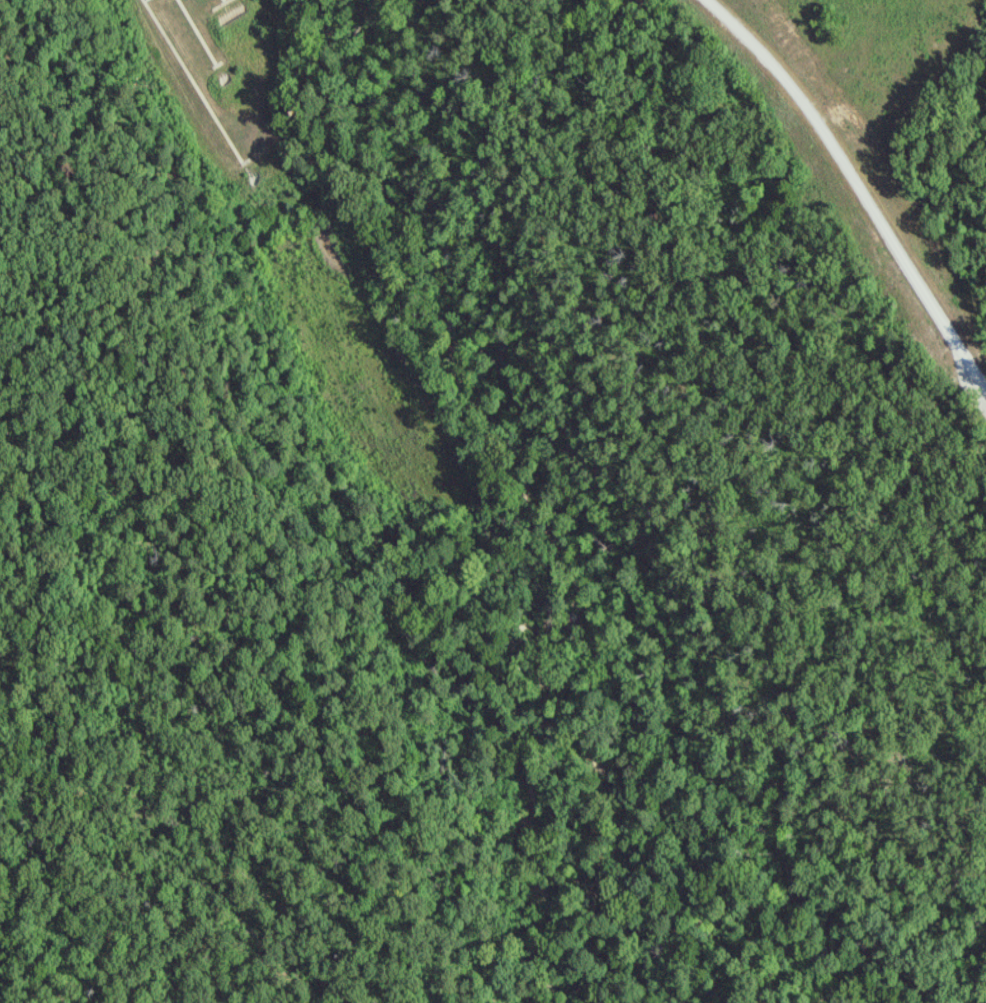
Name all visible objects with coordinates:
road: (857, 179)

